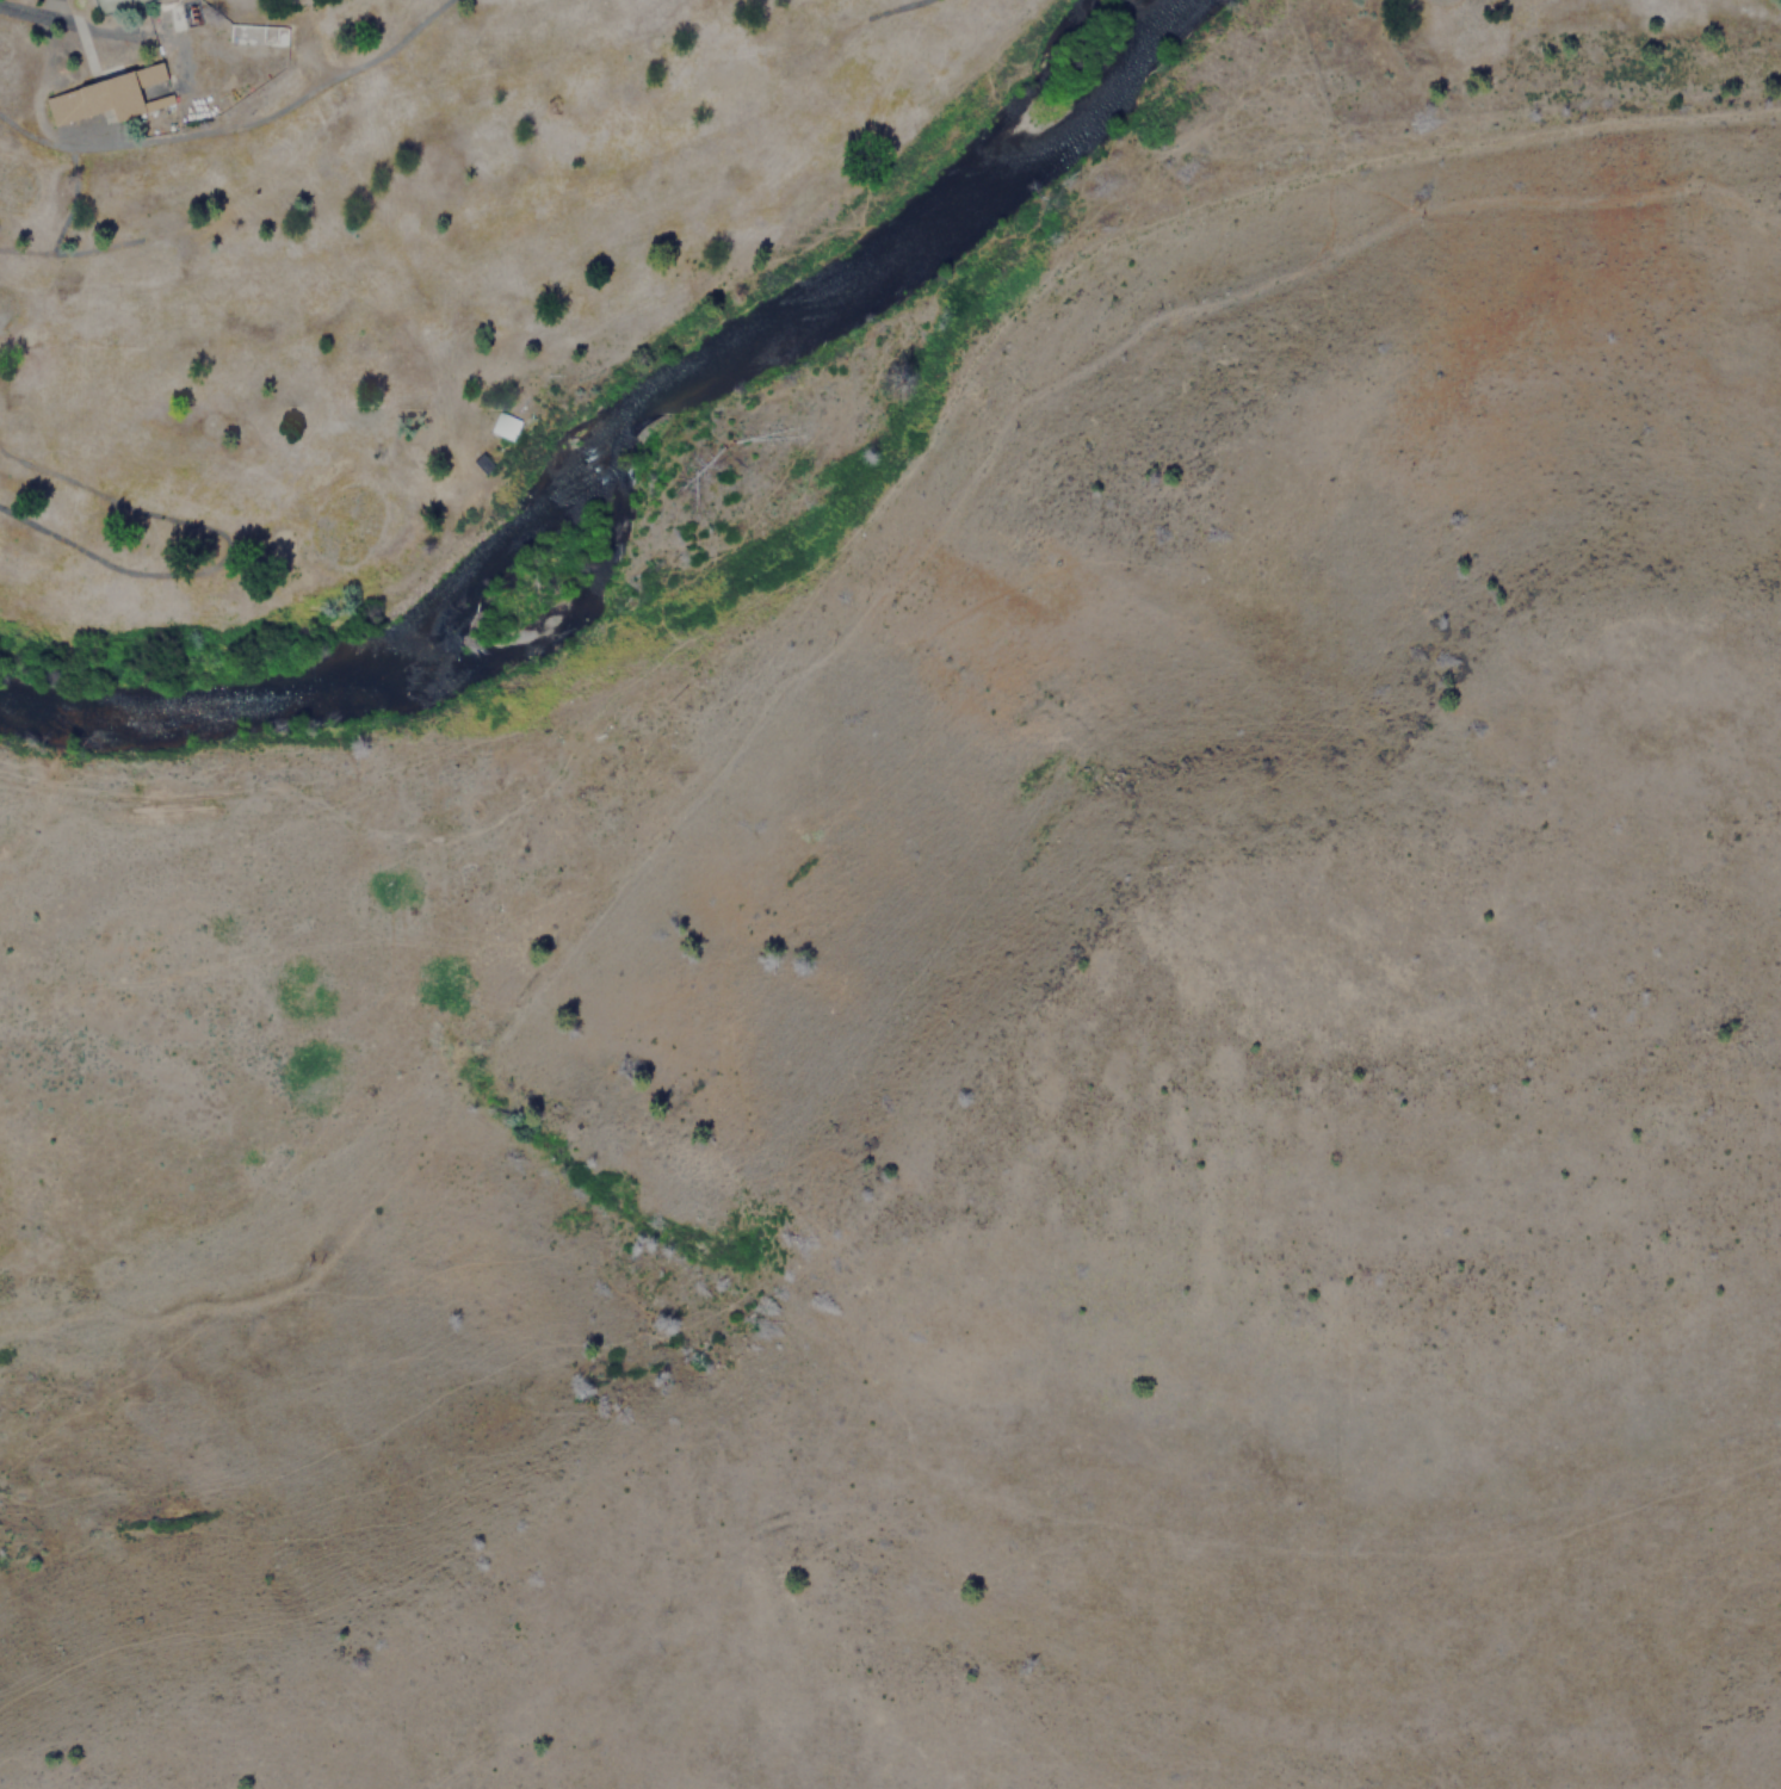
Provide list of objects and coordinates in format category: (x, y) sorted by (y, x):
park: (494, 236)
river: (617, 437)
road: (891, 493)

